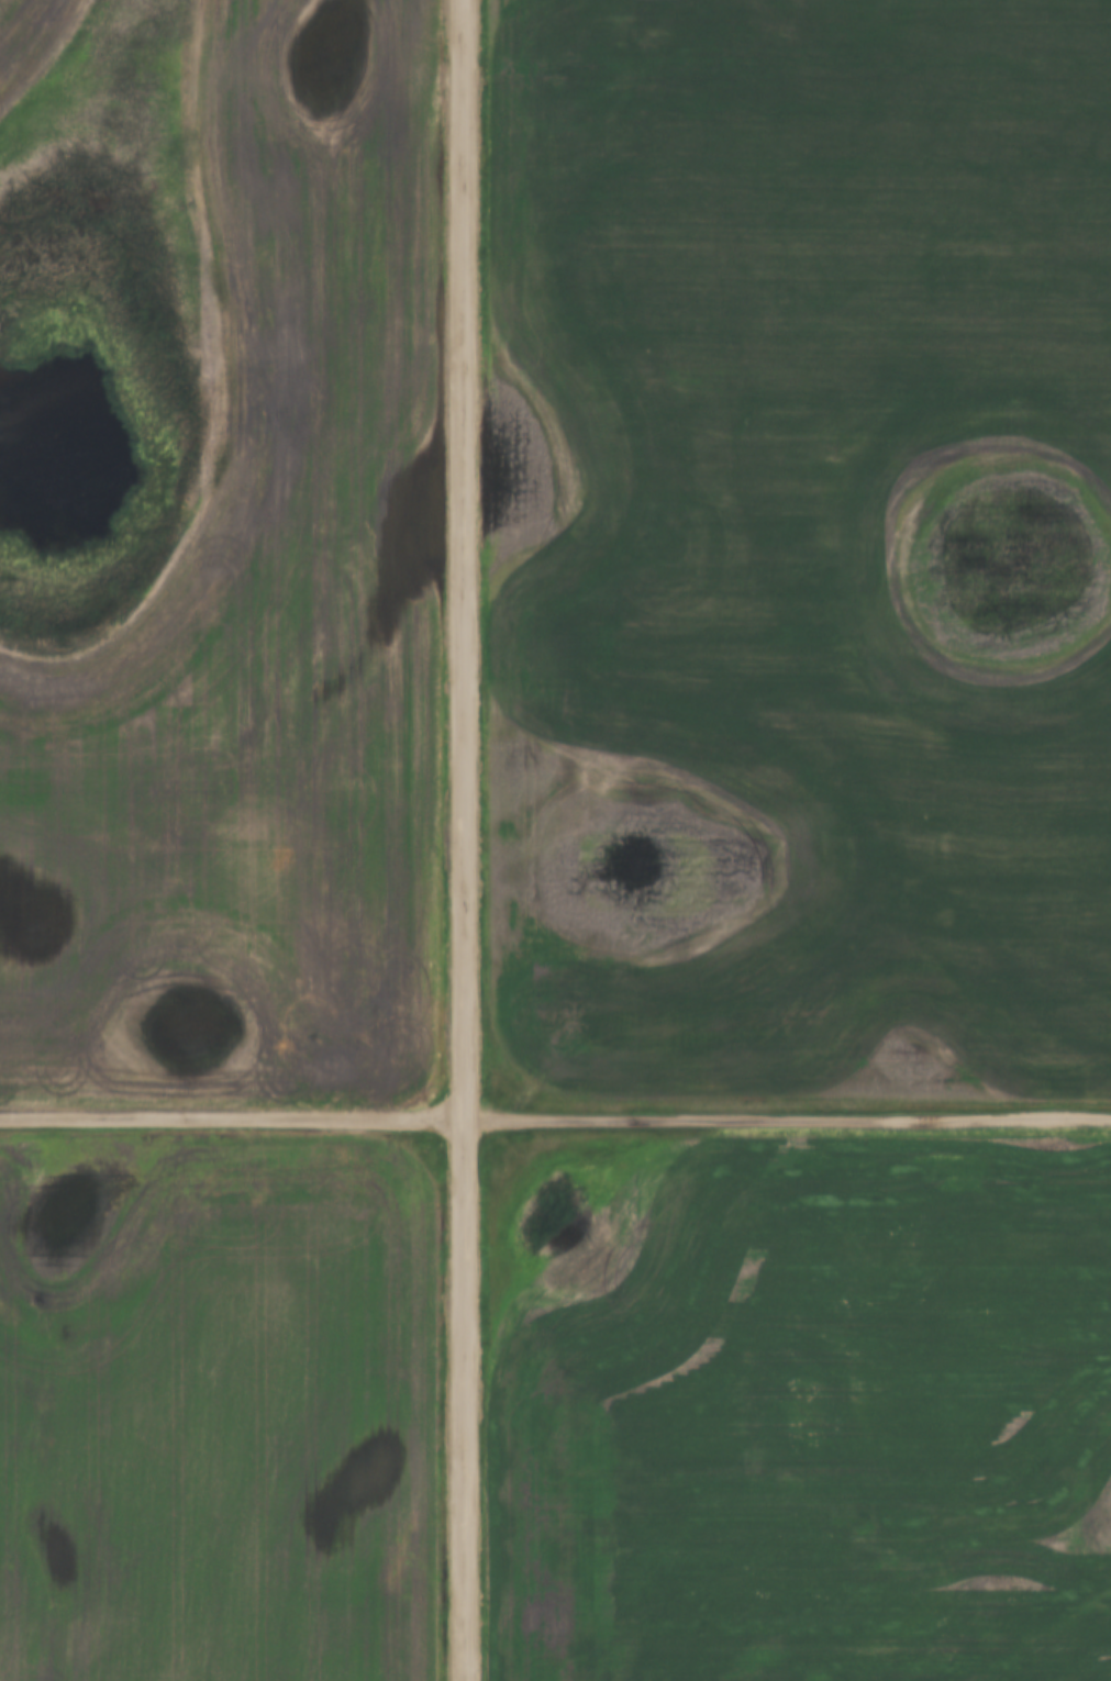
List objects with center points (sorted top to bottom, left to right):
road: (462, 841)
road: (555, 1117)

